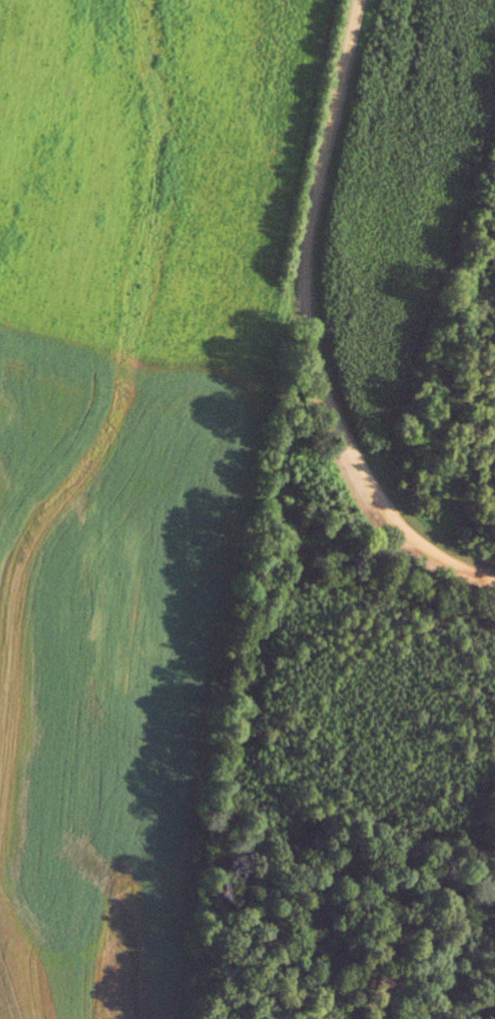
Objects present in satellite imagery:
road: (312, 324)

